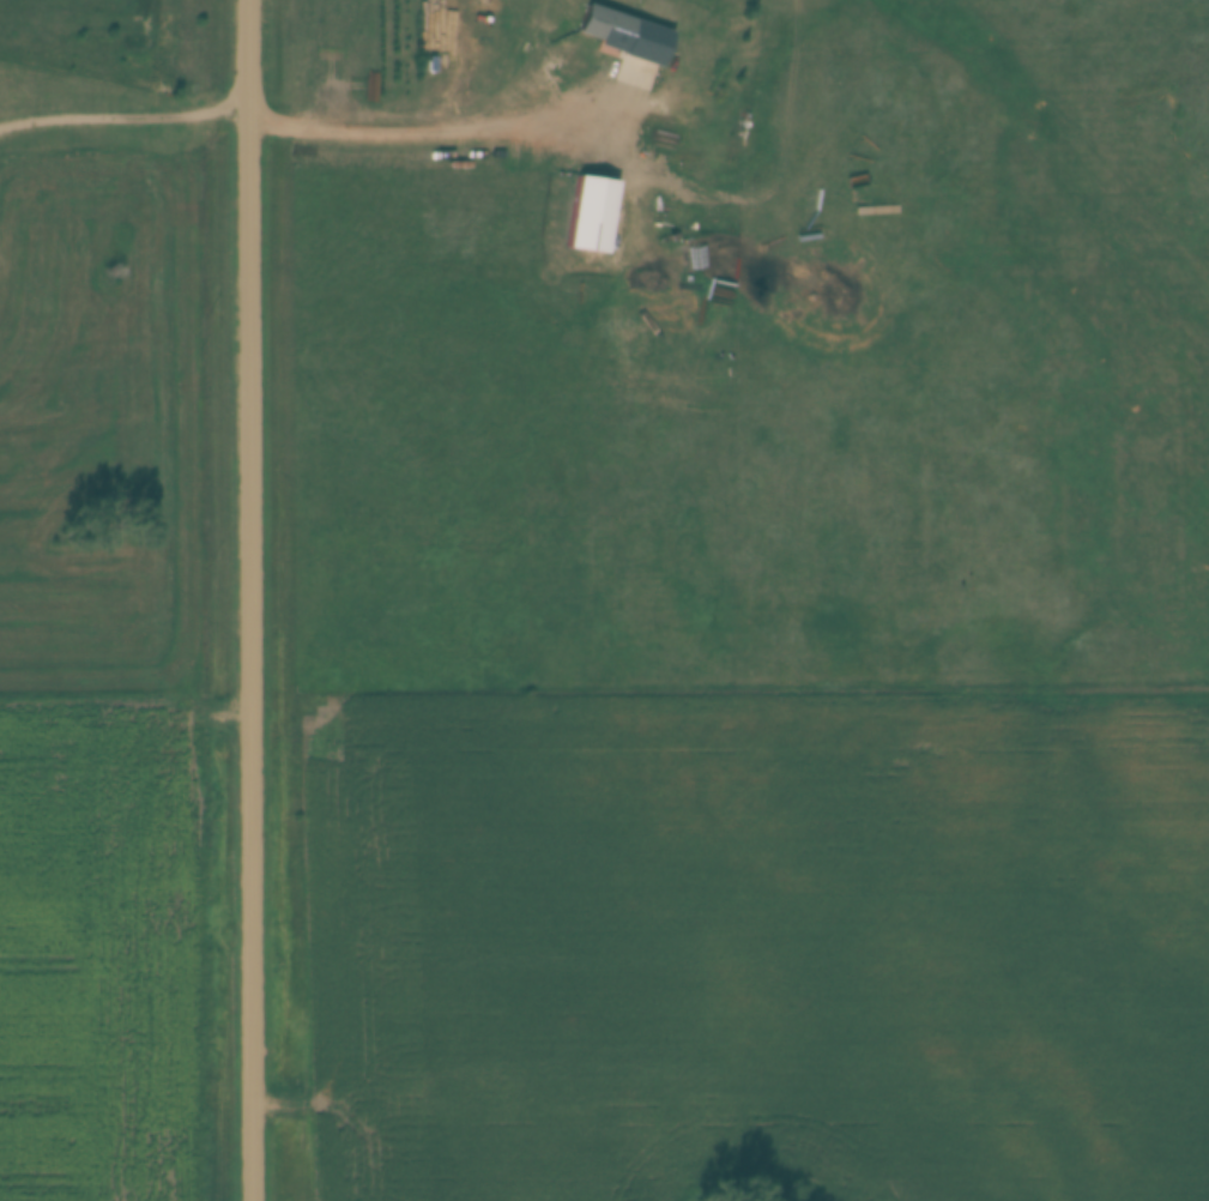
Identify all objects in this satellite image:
building: (625, 31)
road: (123, 111)
building: (593, 212)
road: (247, 600)

